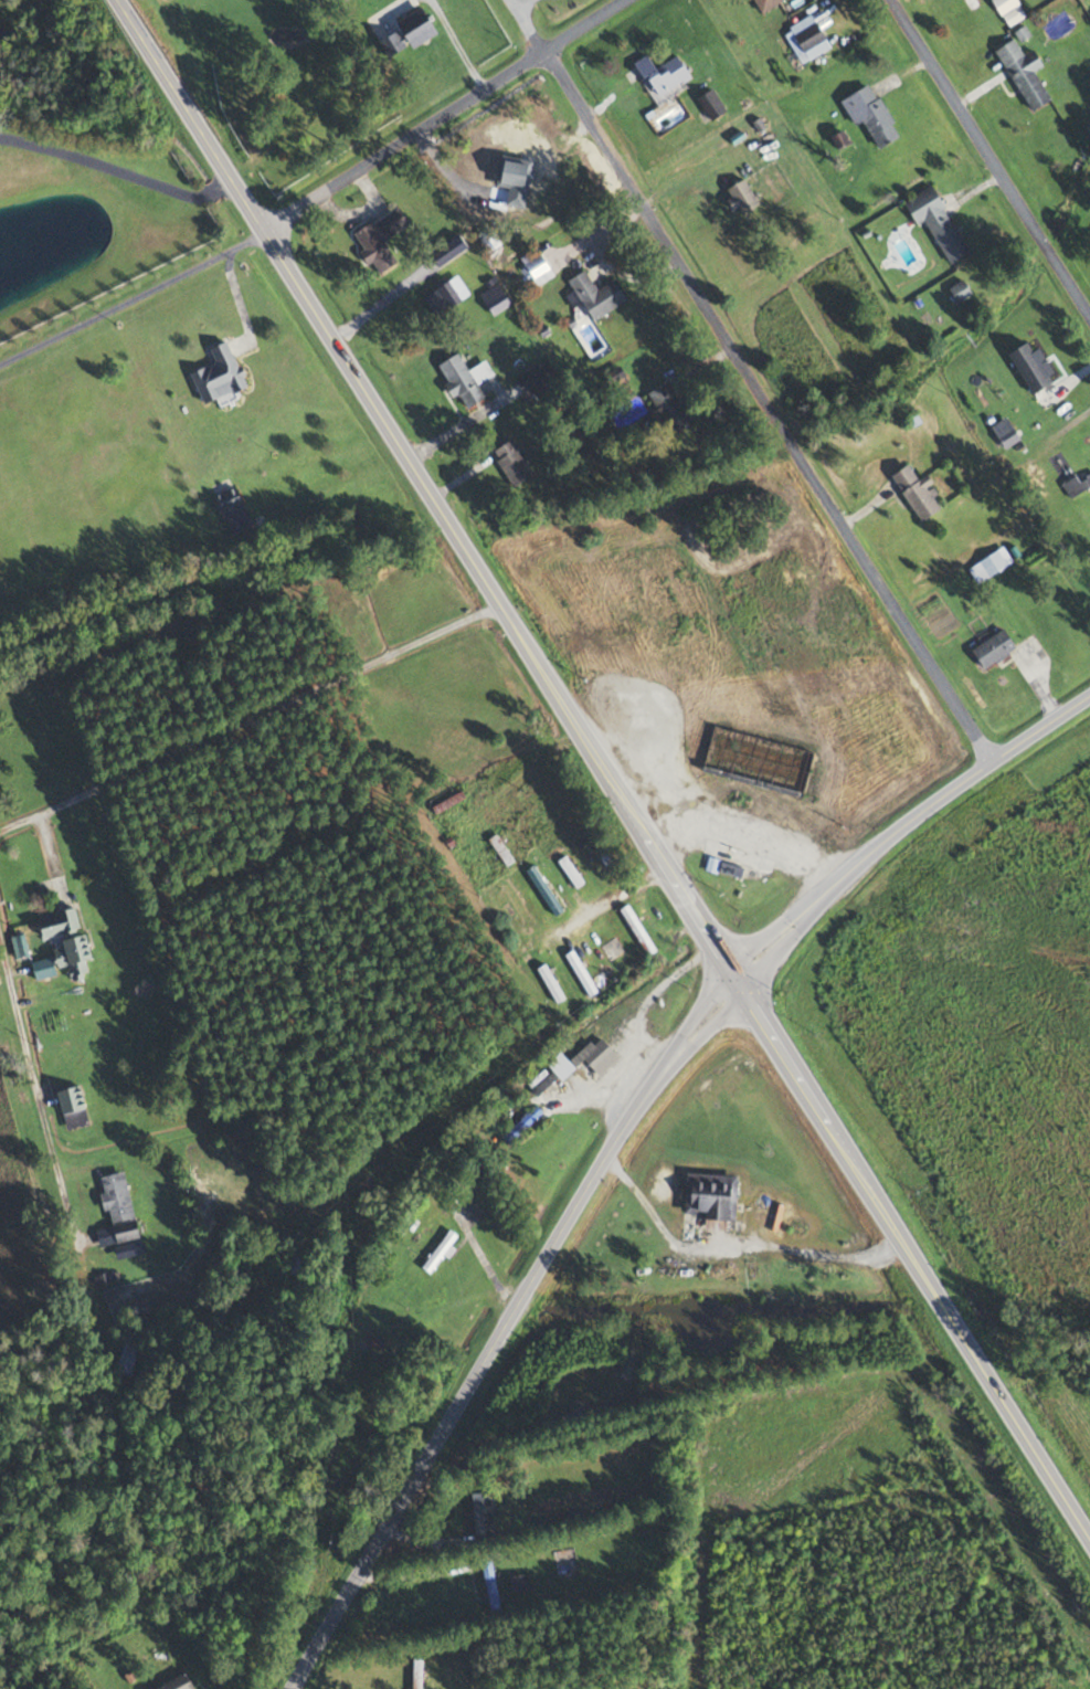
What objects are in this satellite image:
building: (765, 3)
building: (1009, 11)
road: (528, 25)
building: (417, 27)
building: (811, 39)
building: (664, 74)
building: (1025, 74)
building: (711, 105)
road: (442, 114)
building: (870, 115)
road: (988, 162)
road: (134, 172)
building: (516, 177)
building: (740, 192)
building: (936, 223)
building: (380, 240)
building: (538, 266)
building: (960, 291)
building: (449, 295)
building: (594, 295)
road: (130, 297)
building: (495, 299)
building: (1030, 369)
building: (220, 376)
building: (465, 380)
road: (768, 408)
building: (667, 411)
building: (511, 464)
building: (1078, 486)
road: (424, 490)
building: (917, 493)
building: (225, 497)
building: (991, 567)
building: (994, 650)
road: (250, 719)
building: (756, 761)
road: (529, 772)
building: (448, 802)
road: (902, 824)
building: (501, 848)
building: (711, 866)
building: (731, 868)
building: (543, 890)
building: (516, 902)
building: (59, 923)
building: (639, 927)
building: (611, 949)
building: (71, 958)
building: (581, 971)
building: (595, 1055)
building: (540, 1081)
road: (38, 1099)
building: (73, 1108)
building: (521, 1125)
building: (710, 1196)
building: (477, 1206)
building: (119, 1207)
building: (438, 1253)
road: (733, 1255)
building: (297, 1263)
road: (910, 1263)
road: (505, 1328)
building: (373, 1343)
building: (127, 1361)
building: (487, 1513)
building: (563, 1564)
building: (517, 1583)
building: (490, 1588)
building: (416, 1674)
building: (178, 1683)

